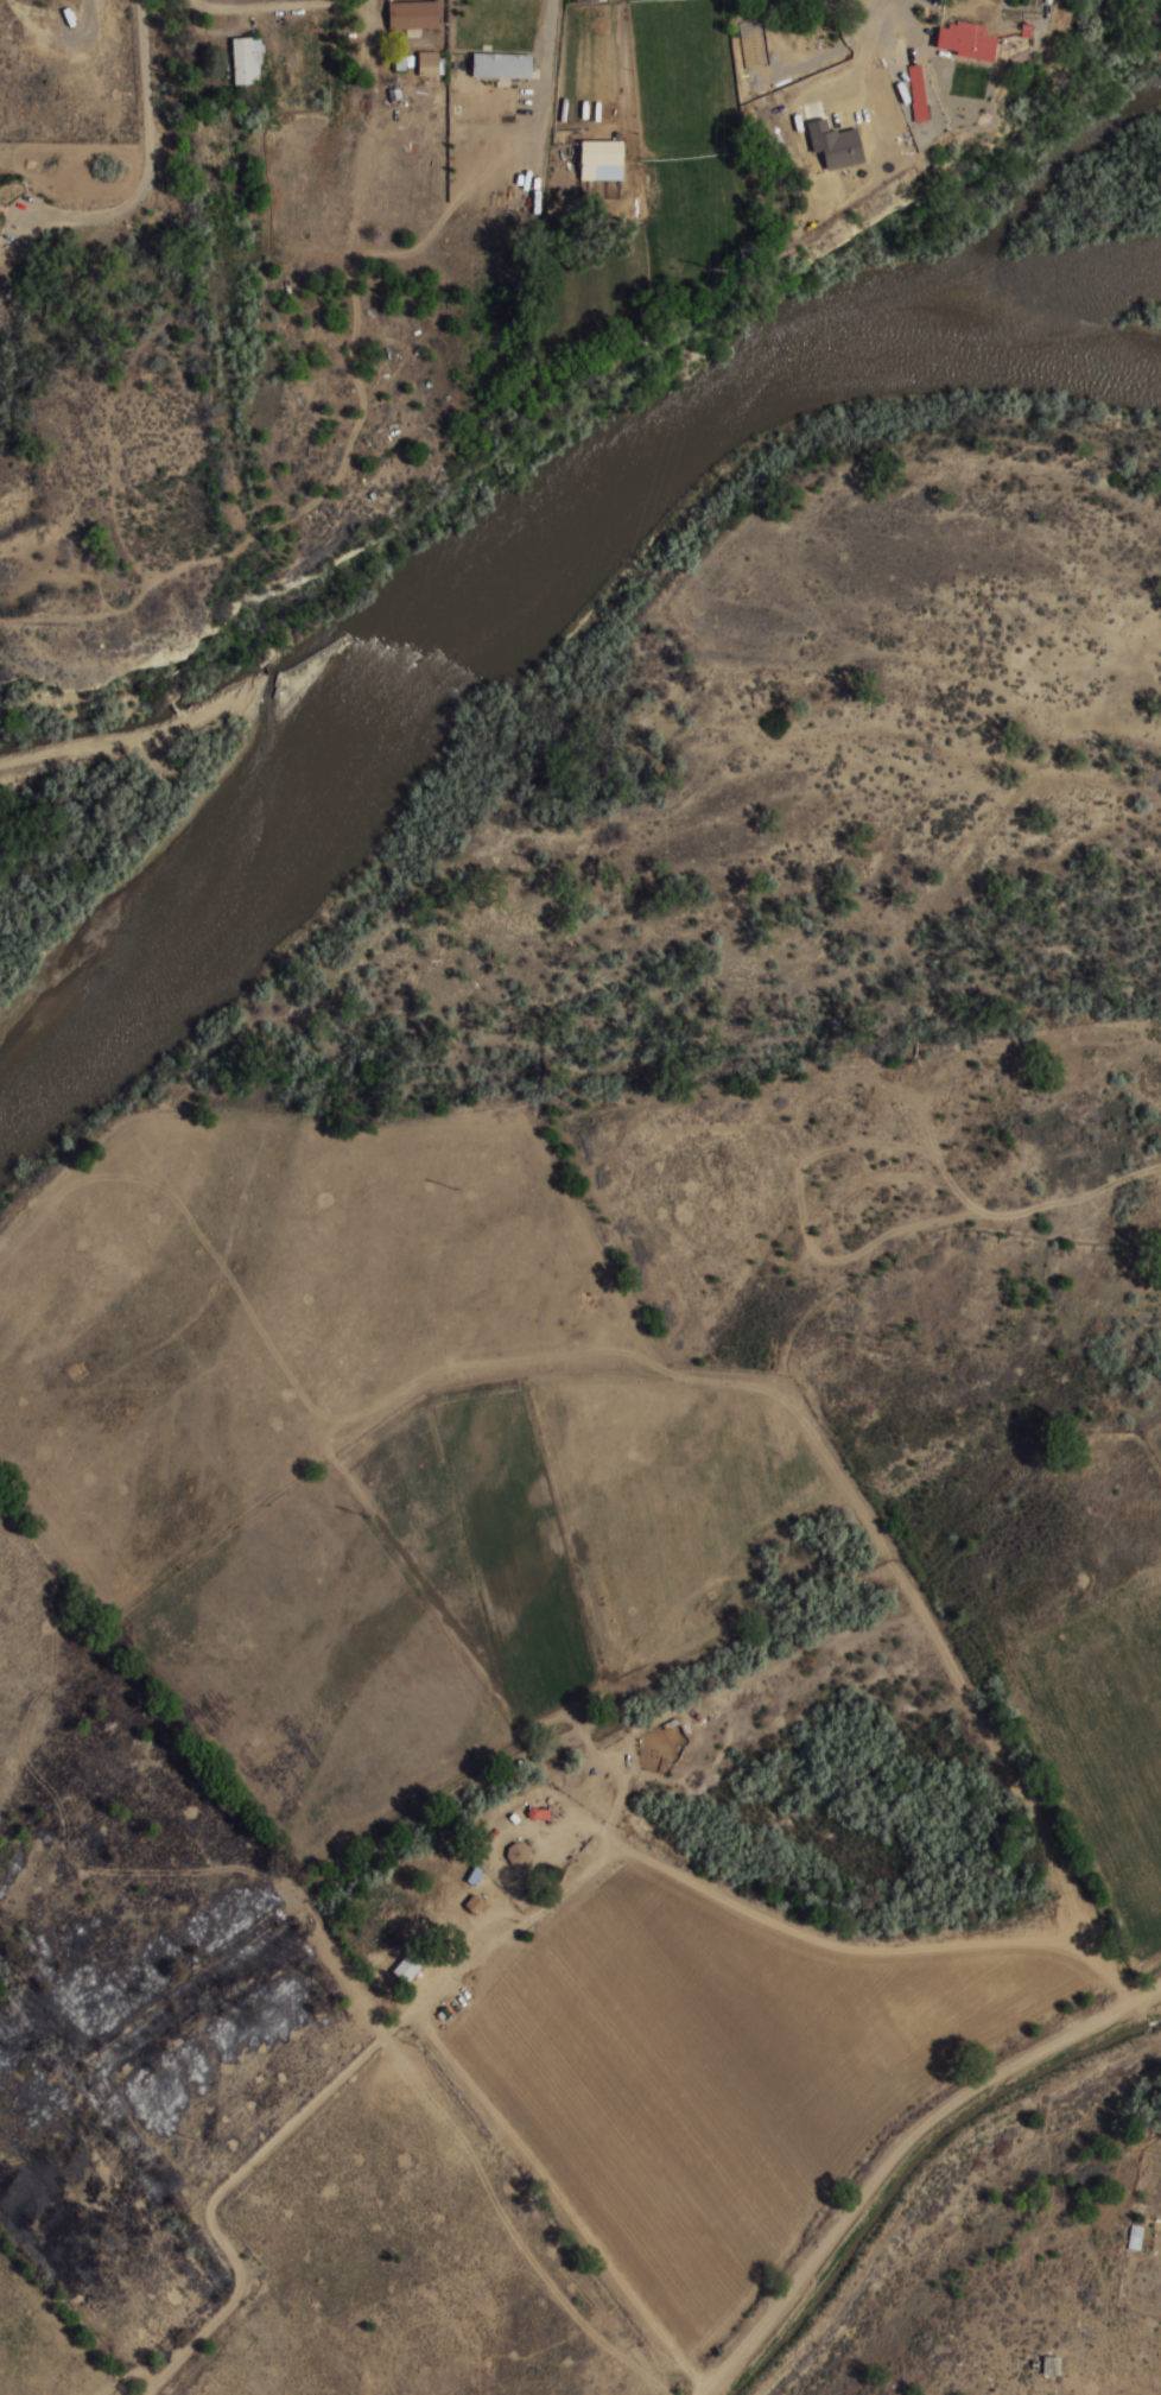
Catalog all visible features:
building: (412, 15)
building: (246, 61)
building: (427, 63)
building: (501, 64)
building: (602, 159)
building: (0, 227)
river: (506, 578)
building: (673, 1730)
building: (539, 1814)
building: (518, 1855)
building: (475, 1874)
road: (537, 1895)
building: (474, 1905)
building: (408, 1966)
road: (899, 2150)

